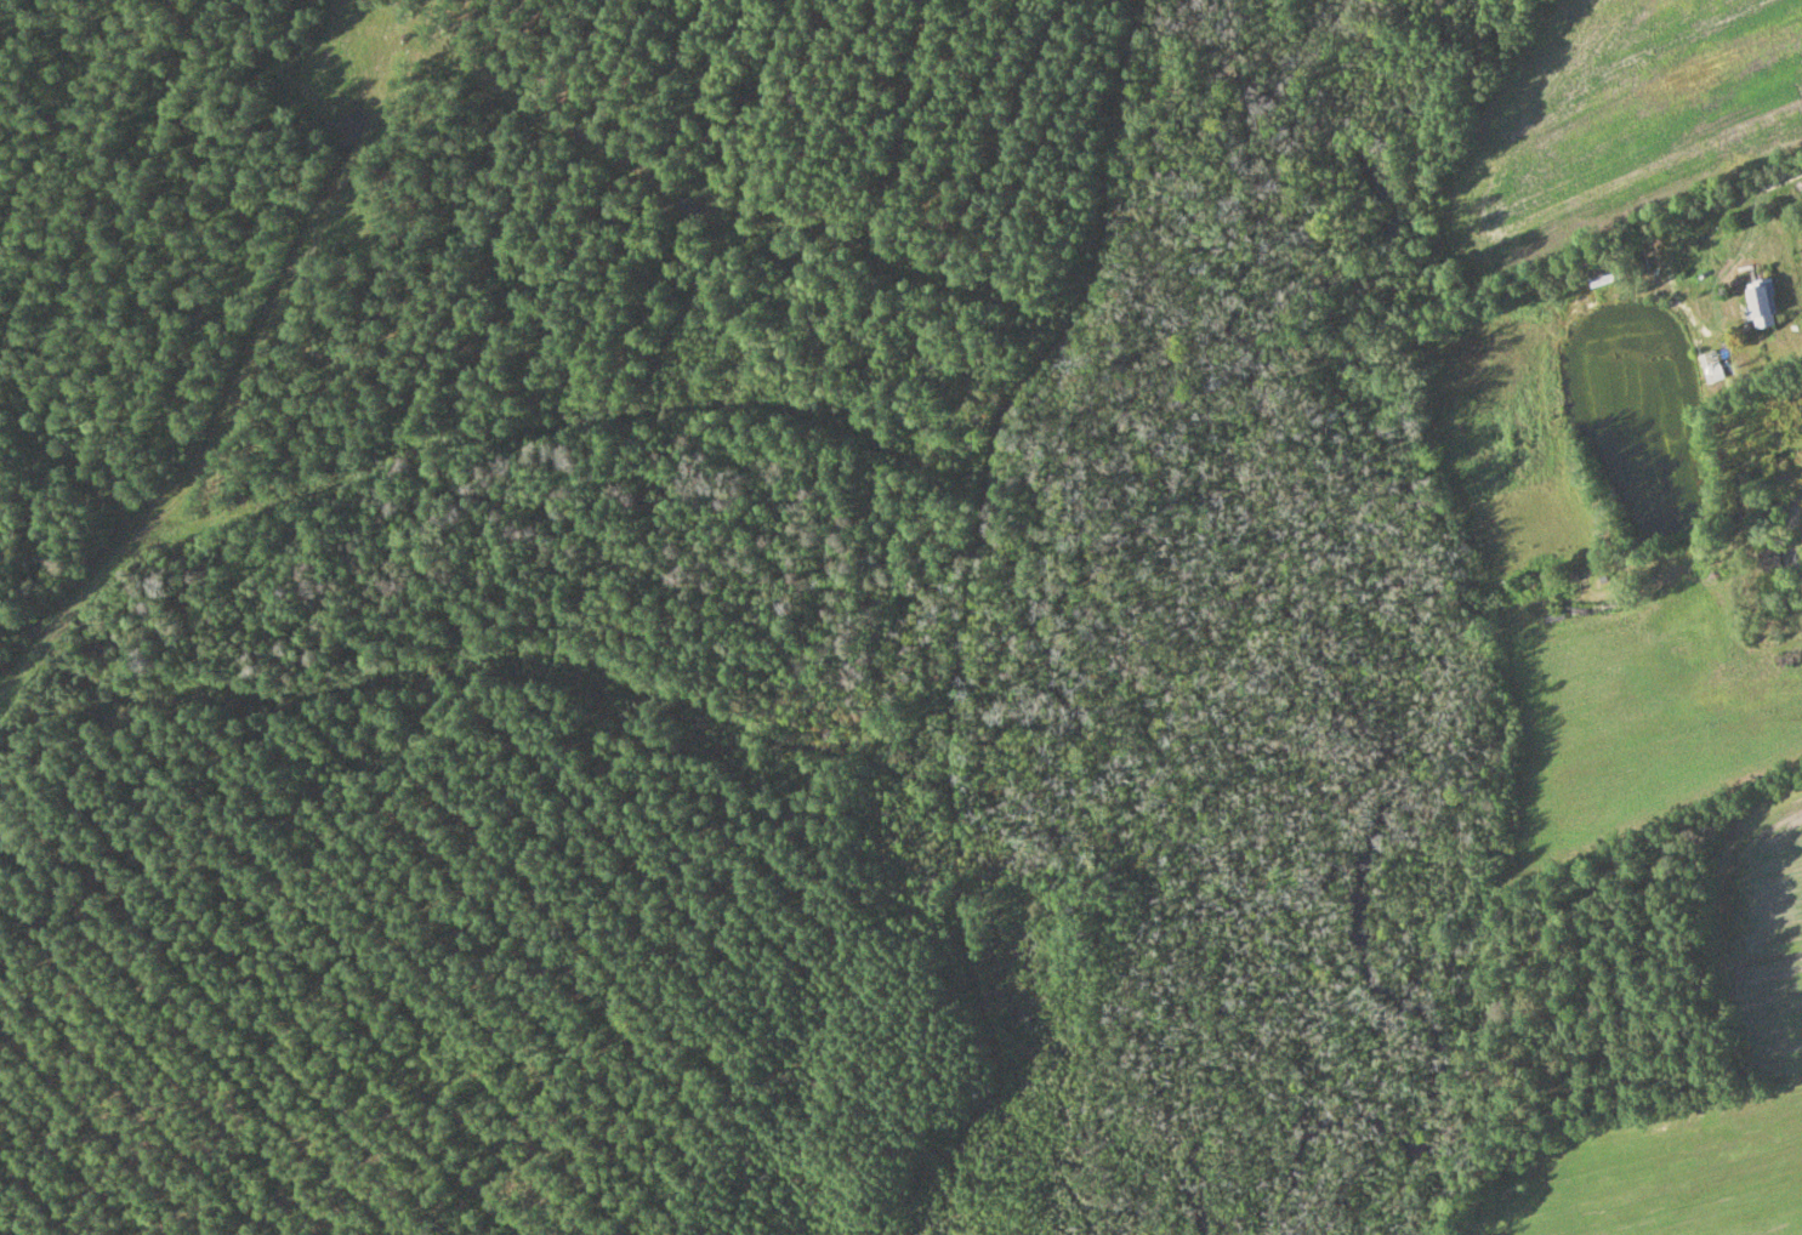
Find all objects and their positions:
building: (1599, 274)
building: (1757, 302)
building: (1709, 366)
building: (1764, 557)

